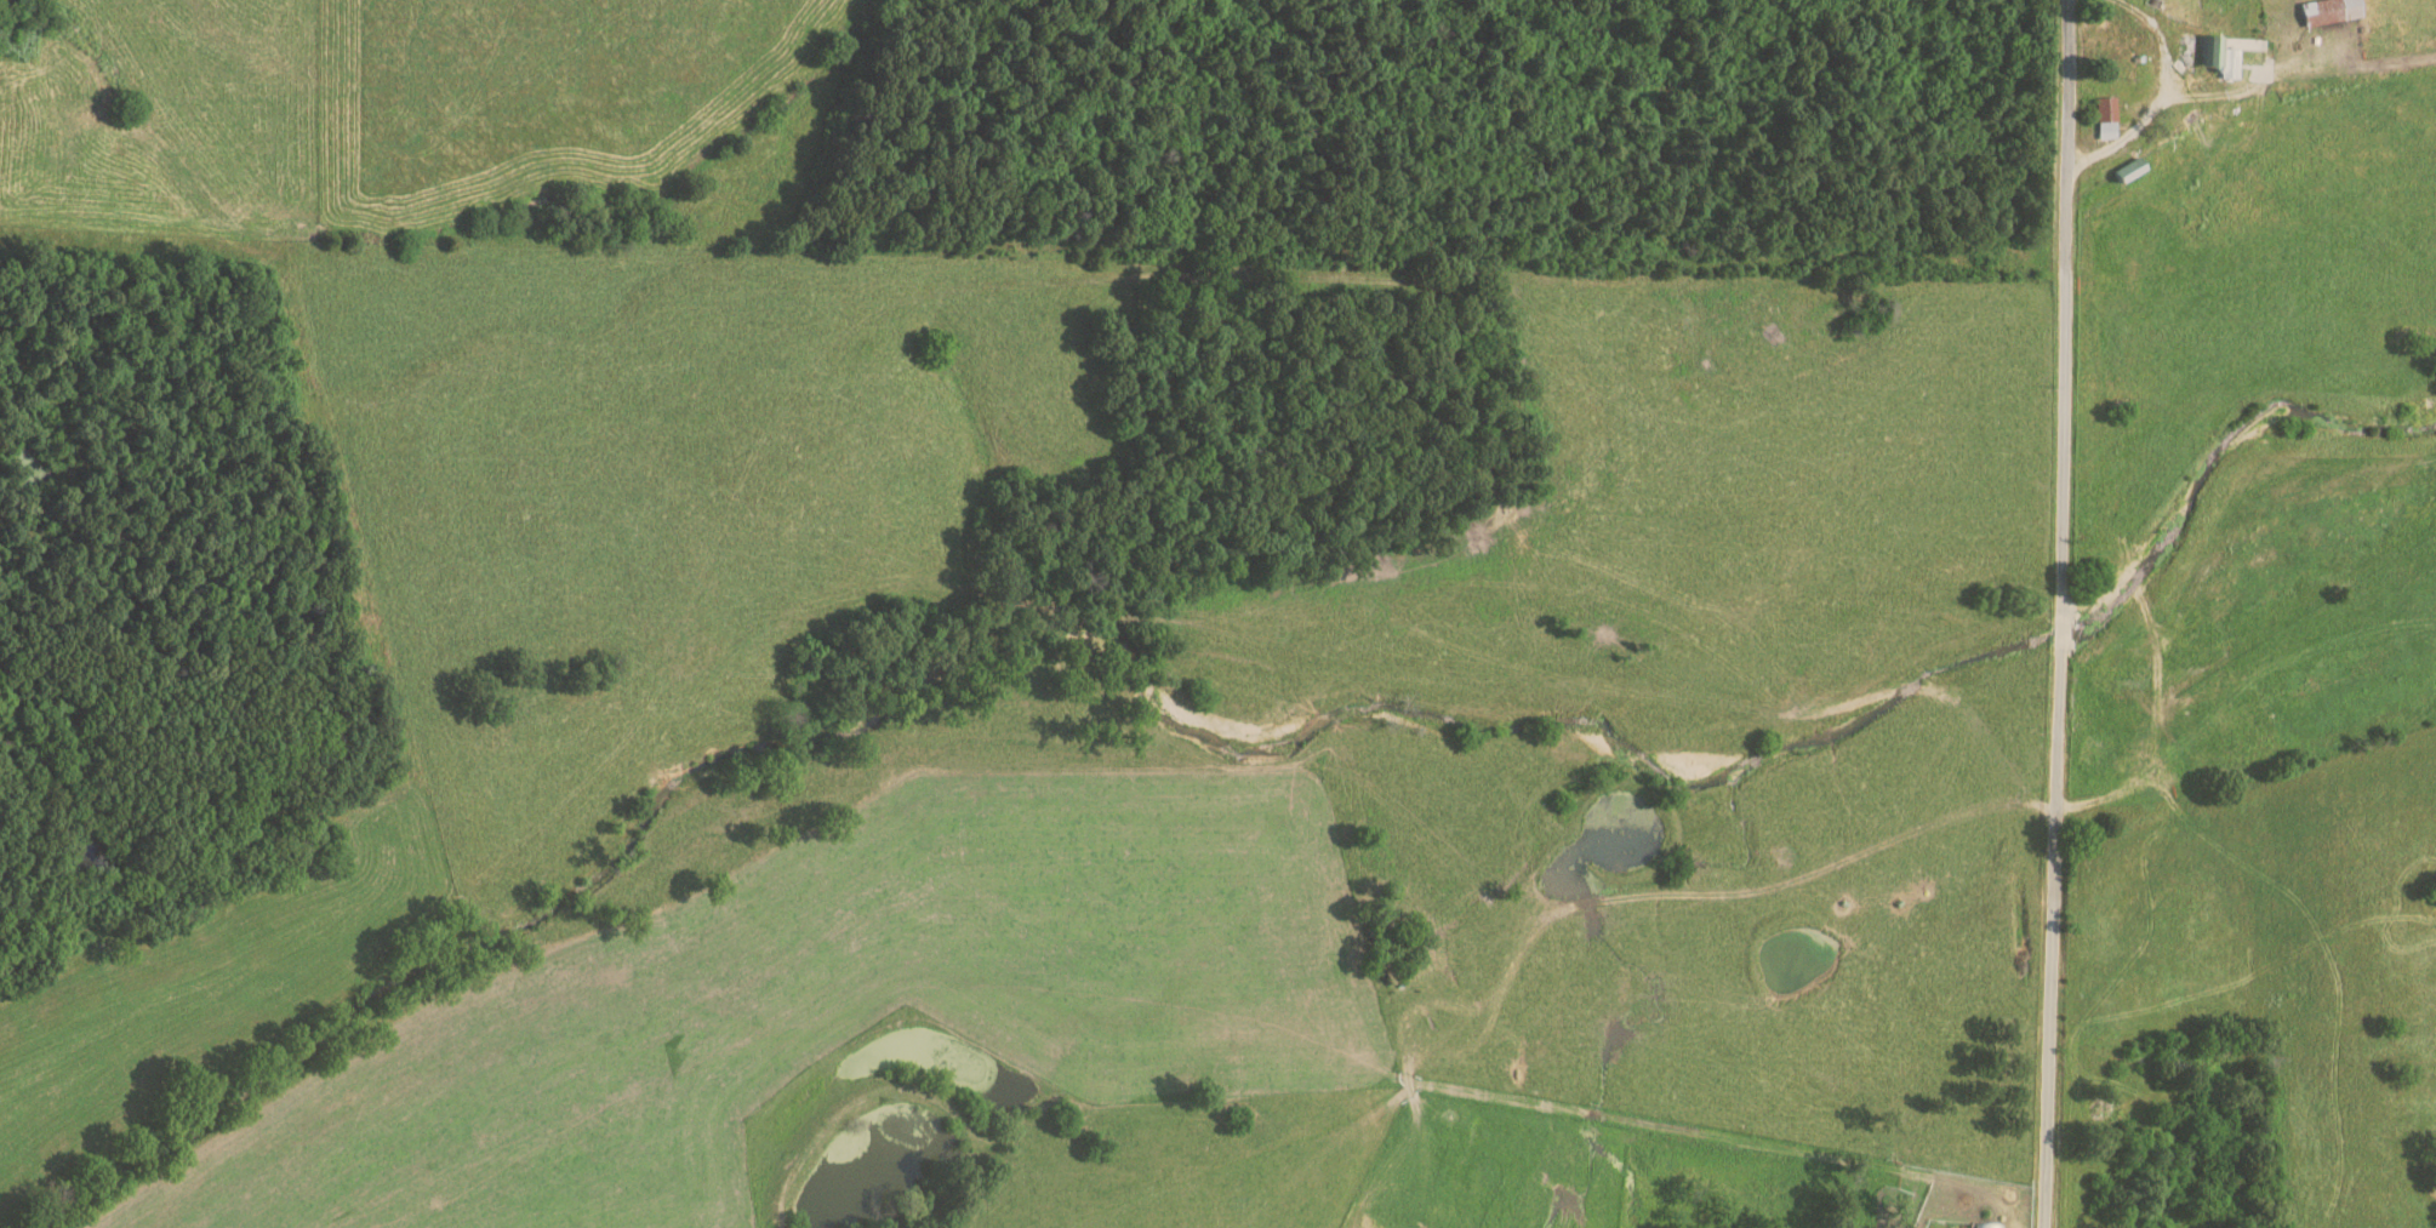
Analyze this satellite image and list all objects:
building: (2333, 11)
building: (2213, 51)
road: (2150, 99)
building: (2107, 118)
building: (2133, 170)
road: (2061, 613)
building: (1986, 1224)

